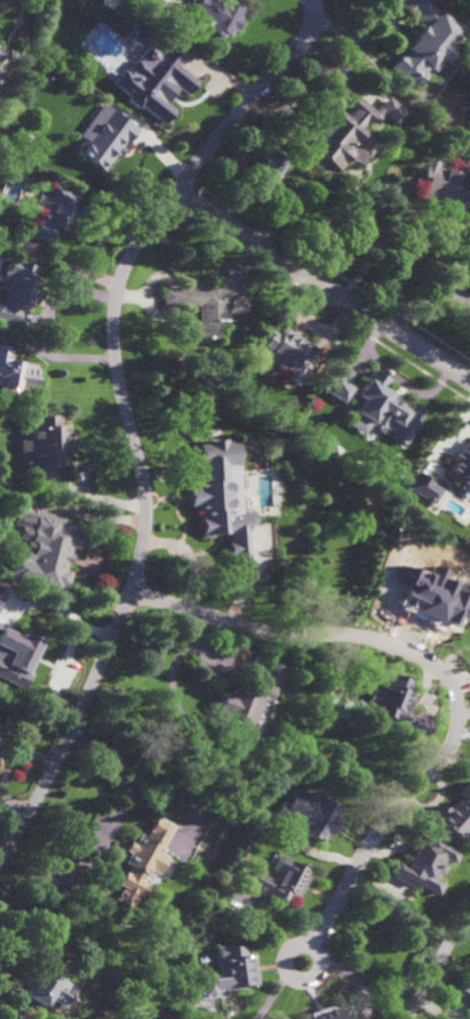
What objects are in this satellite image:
building: (156, 8)
building: (219, 15)
building: (424, 41)
building: (0, 49)
building: (150, 68)
building: (350, 131)
building: (26, 138)
building: (106, 142)
building: (272, 180)
building: (13, 186)
building: (447, 187)
building: (54, 214)
road: (380, 242)
building: (467, 276)
road: (323, 282)
building: (18, 292)
road: (60, 292)
road: (427, 297)
building: (210, 301)
building: (284, 354)
road: (55, 356)
building: (17, 375)
building: (338, 390)
building: (383, 409)
road: (127, 413)
building: (44, 439)
building: (459, 462)
building: (425, 488)
road: (94, 496)
building: (220, 499)
road: (96, 514)
building: (43, 541)
road: (83, 574)
building: (1, 594)
building: (17, 656)
building: (270, 672)
road: (444, 672)
building: (399, 705)
building: (244, 711)
building: (0, 736)
road: (155, 780)
building: (310, 815)
building: (457, 815)
building: (144, 857)
road: (89, 861)
building: (421, 864)
building: (279, 880)
road: (286, 955)
road: (434, 967)
building: (229, 973)
building: (46, 988)
building: (463, 994)
road: (9, 1013)
building: (322, 1014)
building: (348, 1018)

